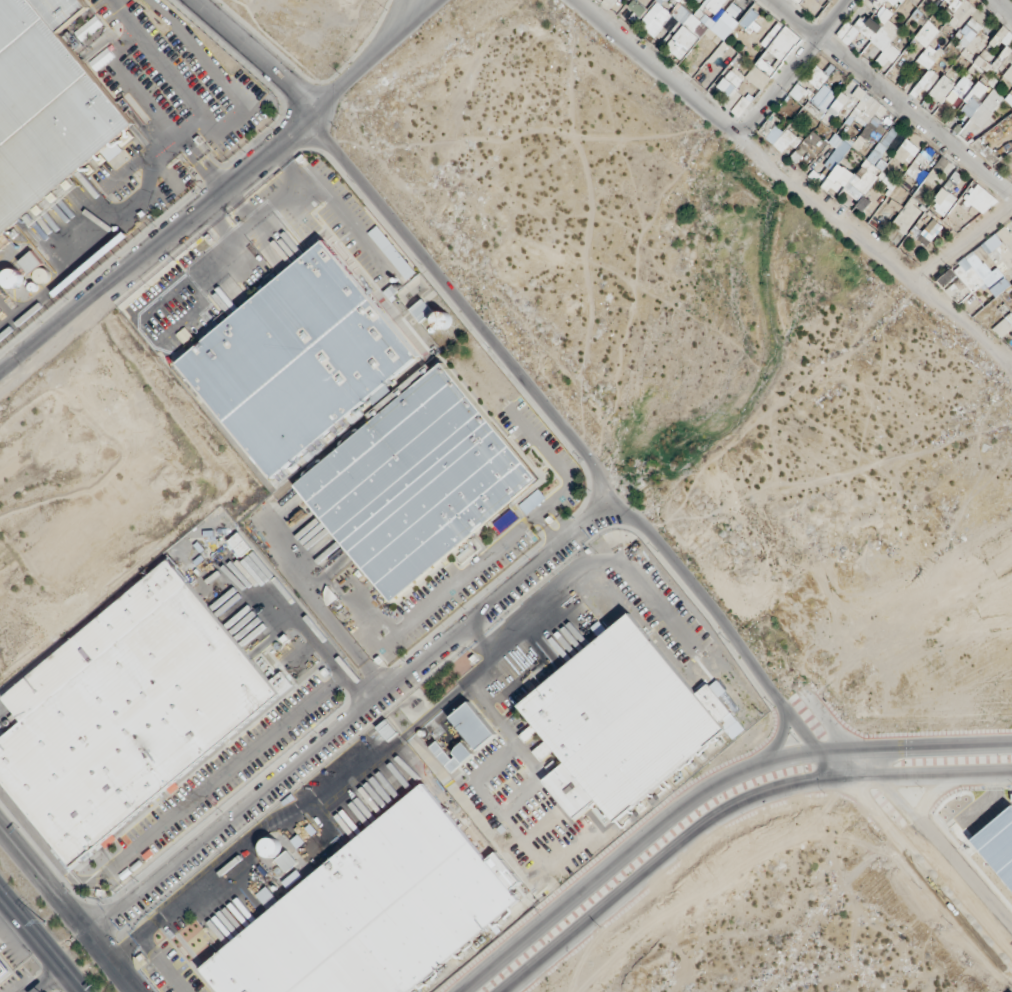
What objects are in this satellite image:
power tower: (36, 921)

